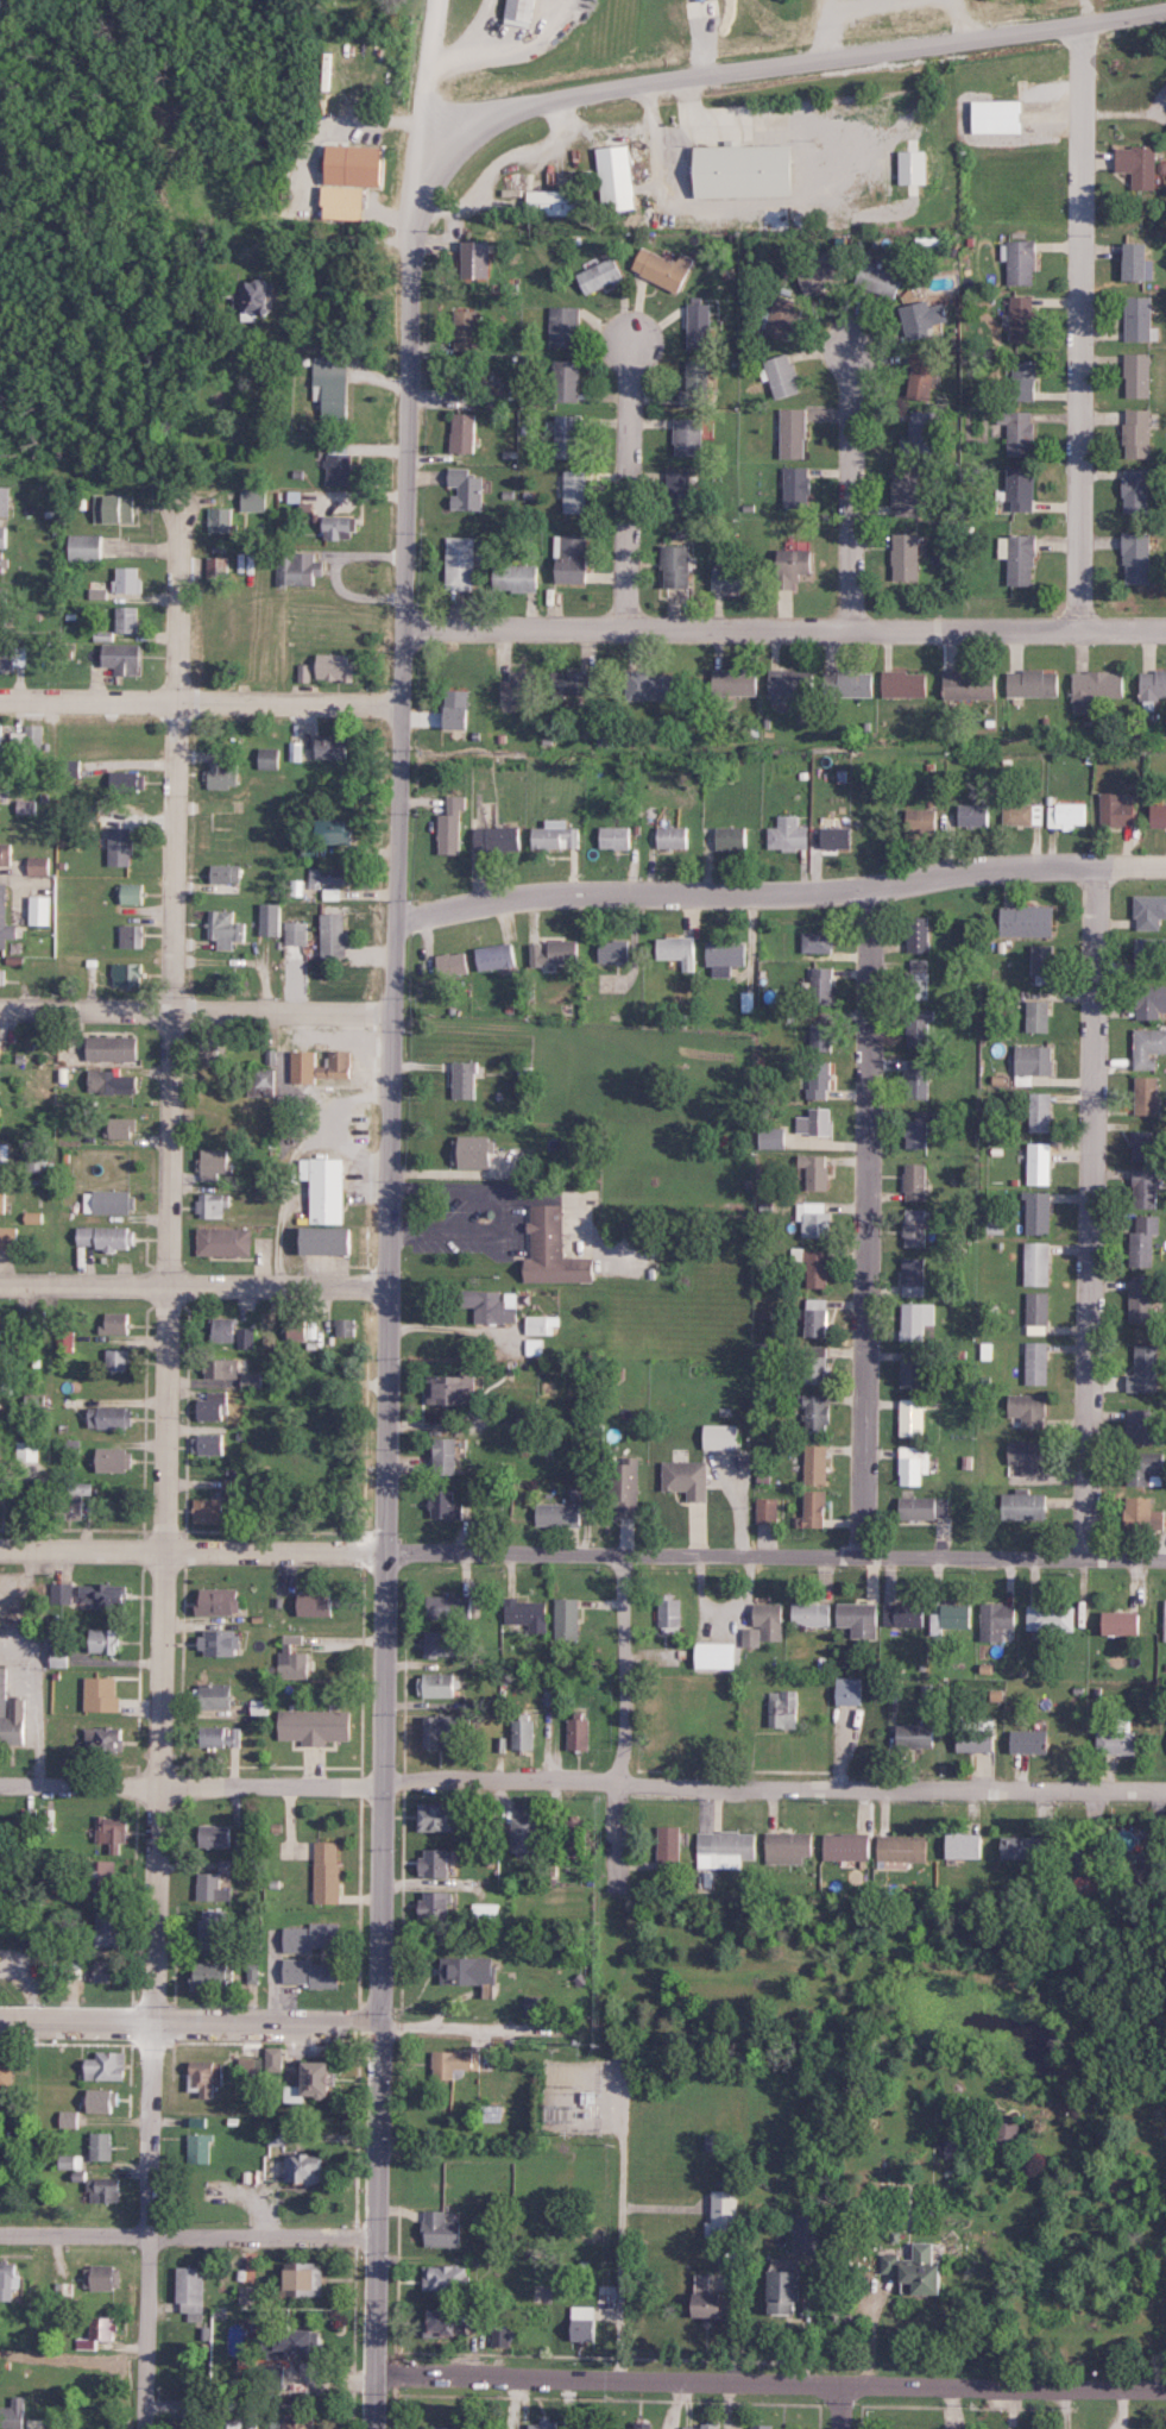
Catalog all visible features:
building: (518, 10)
road: (1124, 20)
road: (466, 30)
road: (503, 44)
building: (324, 70)
road: (427, 101)
building: (994, 115)
building: (1133, 164)
building: (909, 167)
building: (737, 170)
building: (611, 177)
building: (342, 178)
building: (534, 200)
building: (469, 259)
building: (1132, 261)
building: (1017, 262)
building: (657, 266)
building: (597, 274)
building: (812, 278)
building: (874, 278)
building: (245, 295)
building: (777, 318)
building: (919, 318)
building: (1019, 318)
building: (695, 324)
building: (560, 326)
road: (1079, 328)
building: (461, 329)
building: (780, 375)
building: (1133, 375)
building: (918, 377)
building: (1017, 379)
building: (562, 381)
building: (693, 381)
building: (328, 384)
building: (1014, 428)
building: (459, 432)
building: (922, 432)
building: (789, 433)
building: (1134, 433)
building: (565, 435)
building: (685, 435)
building: (335, 464)
road: (634, 481)
road: (847, 481)
building: (792, 485)
building: (899, 485)
building: (1016, 488)
building: (461, 489)
building: (574, 490)
building: (1132, 490)
building: (674, 491)
building: (248, 500)
building: (2, 501)
building: (112, 508)
building: (215, 520)
building: (333, 526)
building: (2, 536)
building: (82, 547)
building: (901, 556)
building: (1132, 557)
building: (1015, 558)
building: (563, 559)
building: (4, 561)
building: (455, 561)
building: (219, 566)
building: (670, 566)
building: (787, 566)
building: (295, 567)
building: (509, 577)
building: (731, 578)
building: (122, 579)
building: (122, 619)
road: (787, 628)
building: (8, 654)
building: (116, 657)
building: (322, 667)
building: (563, 682)
building: (730, 682)
building: (845, 683)
building: (899, 683)
building: (1027, 683)
building: (645, 685)
building: (963, 685)
building: (1090, 688)
building: (513, 689)
building: (1149, 689)
road: (202, 703)
building: (448, 709)
building: (20, 738)
building: (323, 746)
building: (265, 758)
building: (68, 767)
building: (216, 774)
building: (121, 780)
building: (4, 786)
building: (1113, 809)
building: (971, 814)
building: (1020, 814)
building: (1066, 815)
building: (1155, 815)
building: (919, 820)
building: (446, 824)
building: (326, 830)
building: (783, 834)
building: (549, 835)
building: (669, 836)
building: (491, 837)
building: (612, 837)
building: (727, 837)
building: (115, 846)
building: (7, 853)
building: (42, 864)
building: (220, 873)
building: (327, 875)
building: (295, 887)
building: (128, 893)
road: (782, 896)
building: (43, 909)
building: (1146, 911)
building: (6, 917)
building: (266, 918)
building: (1022, 921)
building: (219, 929)
building: (292, 933)
building: (914, 934)
building: (127, 935)
building: (329, 935)
building: (813, 942)
building: (609, 950)
building: (675, 950)
building: (549, 952)
building: (492, 956)
building: (721, 956)
building: (1038, 958)
road: (397, 961)
building: (449, 964)
building: (130, 973)
building: (1, 975)
building: (914, 985)
building: (817, 986)
building: (746, 1000)
building: (1147, 1000)
road: (197, 1013)
building: (1034, 1016)
building: (916, 1024)
building: (817, 1037)
building: (1146, 1047)
building: (1, 1048)
building: (115, 1048)
building: (207, 1050)
building: (1029, 1060)
building: (323, 1071)
building: (265, 1078)
building: (467, 1079)
building: (815, 1080)
building: (112, 1081)
building: (913, 1081)
building: (1141, 1096)
building: (1038, 1111)
building: (0, 1117)
building: (811, 1122)
building: (125, 1128)
building: (910, 1134)
building: (768, 1137)
building: (1137, 1141)
building: (5, 1151)
building: (475, 1151)
building: (214, 1163)
building: (1036, 1163)
building: (812, 1170)
building: (912, 1182)
building: (328, 1187)
building: (1140, 1187)
building: (4, 1201)
building: (111, 1201)
building: (214, 1204)
building: (1034, 1212)
road: (1088, 1213)
road: (505, 1216)
building: (812, 1218)
road: (870, 1224)
building: (909, 1228)
building: (107, 1236)
building: (10, 1237)
building: (330, 1239)
building: (226, 1241)
building: (1140, 1241)
building: (555, 1249)
building: (1035, 1262)
building: (814, 1268)
building: (908, 1272)
road: (194, 1292)
building: (1137, 1298)
building: (1035, 1307)
building: (813, 1317)
building: (913, 1320)
building: (120, 1323)
building: (543, 1324)
building: (348, 1326)
building: (0, 1328)
building: (300, 1328)
building: (225, 1329)
building: (246, 1337)
building: (65, 1339)
building: (535, 1347)
building: (119, 1358)
building: (1034, 1362)
building: (812, 1364)
building: (223, 1368)
building: (1140, 1369)
building: (908, 1374)
building: (6, 1388)
building: (454, 1388)
building: (0, 1406)
building: (212, 1406)
building: (1023, 1410)
building: (811, 1412)
building: (113, 1416)
building: (908, 1417)
building: (1133, 1426)
building: (725, 1436)
building: (0, 1444)
building: (209, 1444)
building: (29, 1451)
building: (1022, 1456)
building: (118, 1460)
building: (811, 1463)
road: (166, 1464)
building: (910, 1464)
building: (1139, 1467)
building: (689, 1477)
building: (235, 1486)
building: (83, 1488)
building: (626, 1495)
building: (447, 1505)
building: (1020, 1505)
building: (919, 1507)
building: (809, 1508)
building: (769, 1510)
building: (210, 1511)
building: (565, 1513)
building: (1137, 1514)
road: (194, 1551)
road: (776, 1558)
building: (63, 1592)
building: (109, 1595)
building: (222, 1601)
building: (319, 1603)
building: (450, 1606)
building: (670, 1611)
building: (530, 1614)
building: (813, 1614)
building: (907, 1614)
building: (568, 1618)
building: (954, 1618)
building: (1047, 1618)
building: (862, 1619)
building: (1162, 1620)
building: (995, 1621)
building: (1115, 1624)
building: (767, 1625)
building: (106, 1640)
building: (223, 1643)
building: (445, 1644)
building: (720, 1655)
building: (62, 1657)
building: (295, 1659)
building: (441, 1684)
building: (851, 1691)
building: (105, 1694)
building: (220, 1695)
building: (553, 1695)
building: (786, 1708)
building: (12, 1712)
road: (625, 1724)
building: (317, 1725)
building: (445, 1731)
building: (581, 1733)
building: (524, 1734)
building: (978, 1734)
building: (919, 1736)
building: (221, 1737)
building: (107, 1739)
building: (1034, 1741)
building: (1120, 1743)
road: (190, 1784)
road: (774, 1790)
building: (442, 1816)
building: (576, 1822)
building: (114, 1831)
building: (527, 1833)
building: (849, 1846)
building: (968, 1846)
building: (789, 1847)
building: (1025, 1847)
building: (670, 1849)
building: (726, 1849)
building: (905, 1849)
building: (440, 1862)
building: (329, 1872)
building: (213, 1888)
building: (440, 1904)
building: (487, 1913)
building: (109, 1923)
building: (215, 1929)
building: (315, 1937)
building: (0, 1964)
building: (108, 1971)
building: (477, 1971)
building: (253, 1972)
building: (315, 1973)
building: (213, 1975)
building: (532, 2007)
road: (188, 2021)
building: (276, 2059)
building: (455, 2063)
building: (108, 2066)
building: (251, 2069)
building: (7, 2076)
building: (207, 2078)
building: (324, 2079)
building: (103, 2101)
building: (491, 2114)
building: (70, 2119)
building: (1010, 2133)
building: (103, 2146)
building: (201, 2147)
building: (960, 2147)
building: (71, 2161)
building: (309, 2166)
building: (106, 2190)
building: (726, 2211)
building: (443, 2229)
road: (184, 2232)
building: (809, 2233)
road: (623, 2242)
building: (928, 2251)
building: (735, 2260)
building: (895, 2264)
building: (447, 2276)
building: (102, 2277)
building: (929, 2277)
building: (308, 2278)
building: (10, 2279)
building: (793, 2290)
building: (191, 2291)
building: (63, 2292)
building: (540, 2292)
building: (248, 2293)
building: (713, 2299)
building: (446, 2322)
building: (585, 2322)
building: (99, 2331)
building: (500, 2336)
building: (301, 2340)
building: (244, 2346)
road: (768, 2381)
road: (838, 2406)
building: (302, 2422)
building: (183, 2424)
building: (546, 2424)
building: (708, 2425)
building: (448, 2427)
building: (643, 2427)
building: (957, 2428)

